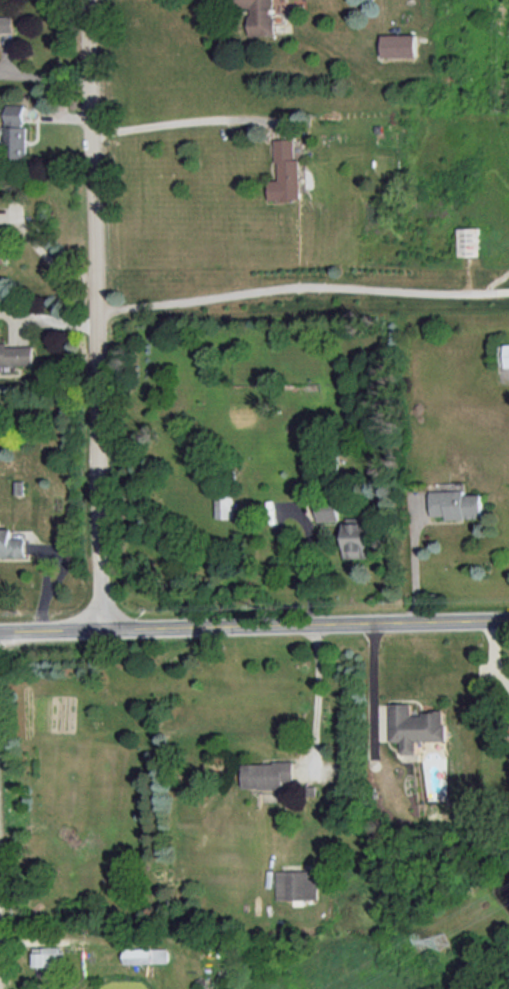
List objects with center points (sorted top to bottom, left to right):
building: (261, 15)
building: (7, 23)
building: (399, 44)
road: (38, 70)
road: (185, 120)
building: (18, 131)
building: (286, 171)
building: (470, 241)
road: (49, 256)
road: (302, 287)
road: (97, 313)
building: (16, 354)
building: (507, 354)
building: (458, 503)
building: (228, 506)
building: (331, 509)
road: (308, 513)
building: (359, 536)
building: (12, 544)
road: (416, 566)
road: (254, 624)
road: (320, 693)
building: (416, 726)
building: (268, 773)
building: (295, 883)
road: (60, 935)
power tower: (438, 937)
building: (146, 954)
building: (47, 955)

